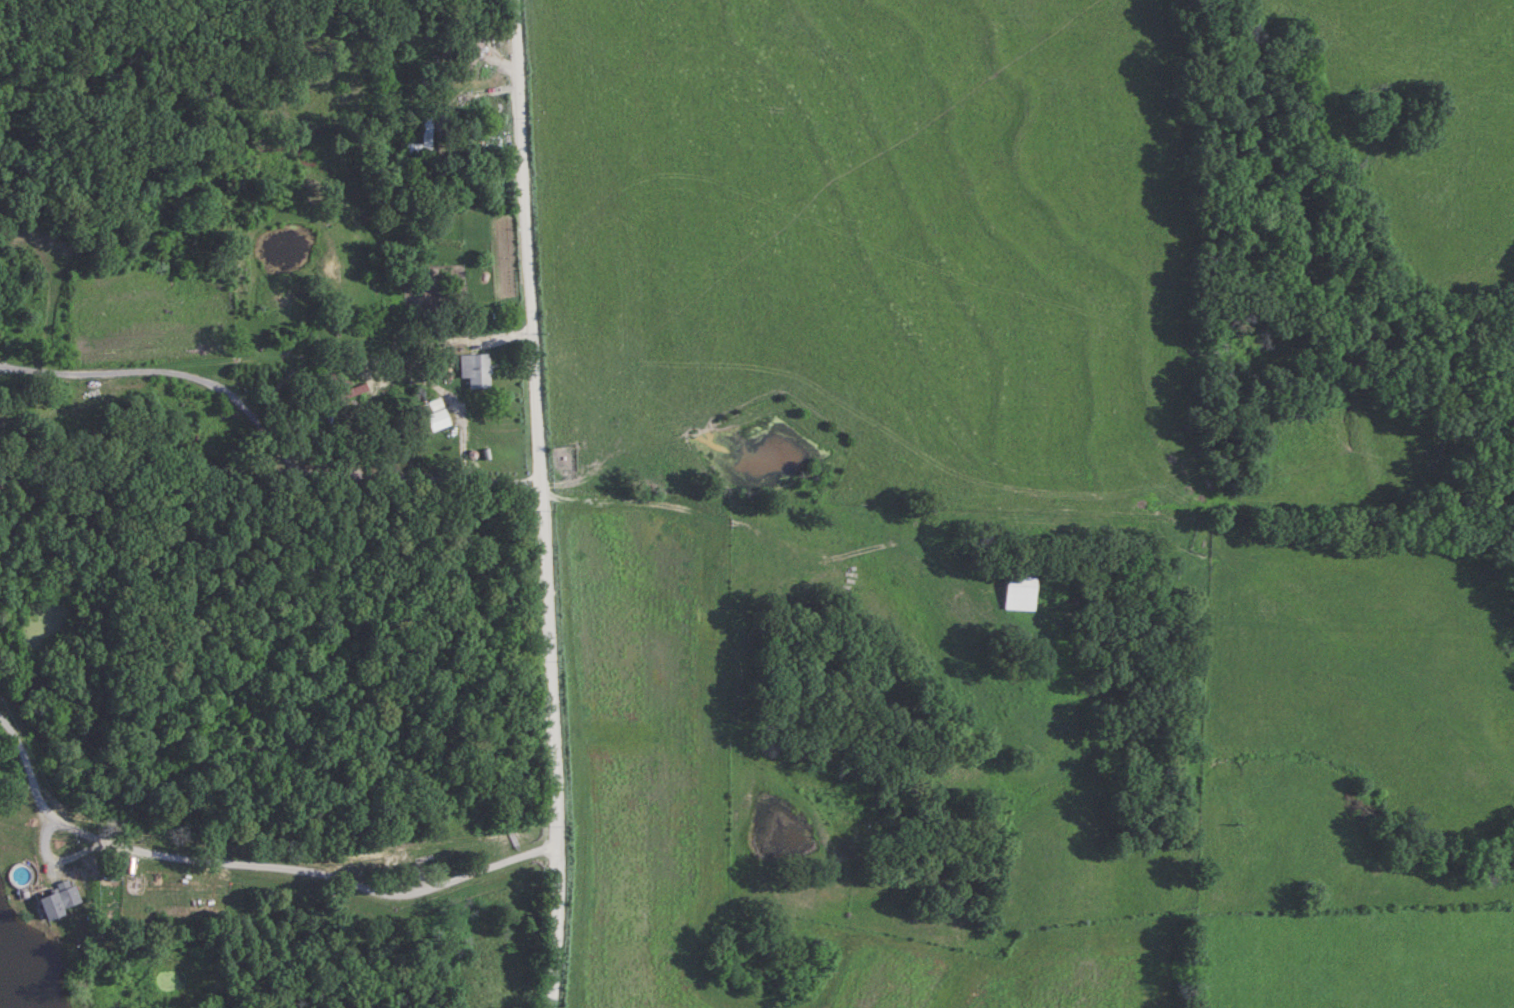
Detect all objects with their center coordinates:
building: (472, 56)
building: (422, 139)
building: (474, 371)
road: (271, 388)
road: (452, 404)
building: (433, 415)
road: (370, 473)
road: (540, 504)
building: (1019, 594)
road: (247, 860)
building: (59, 899)

